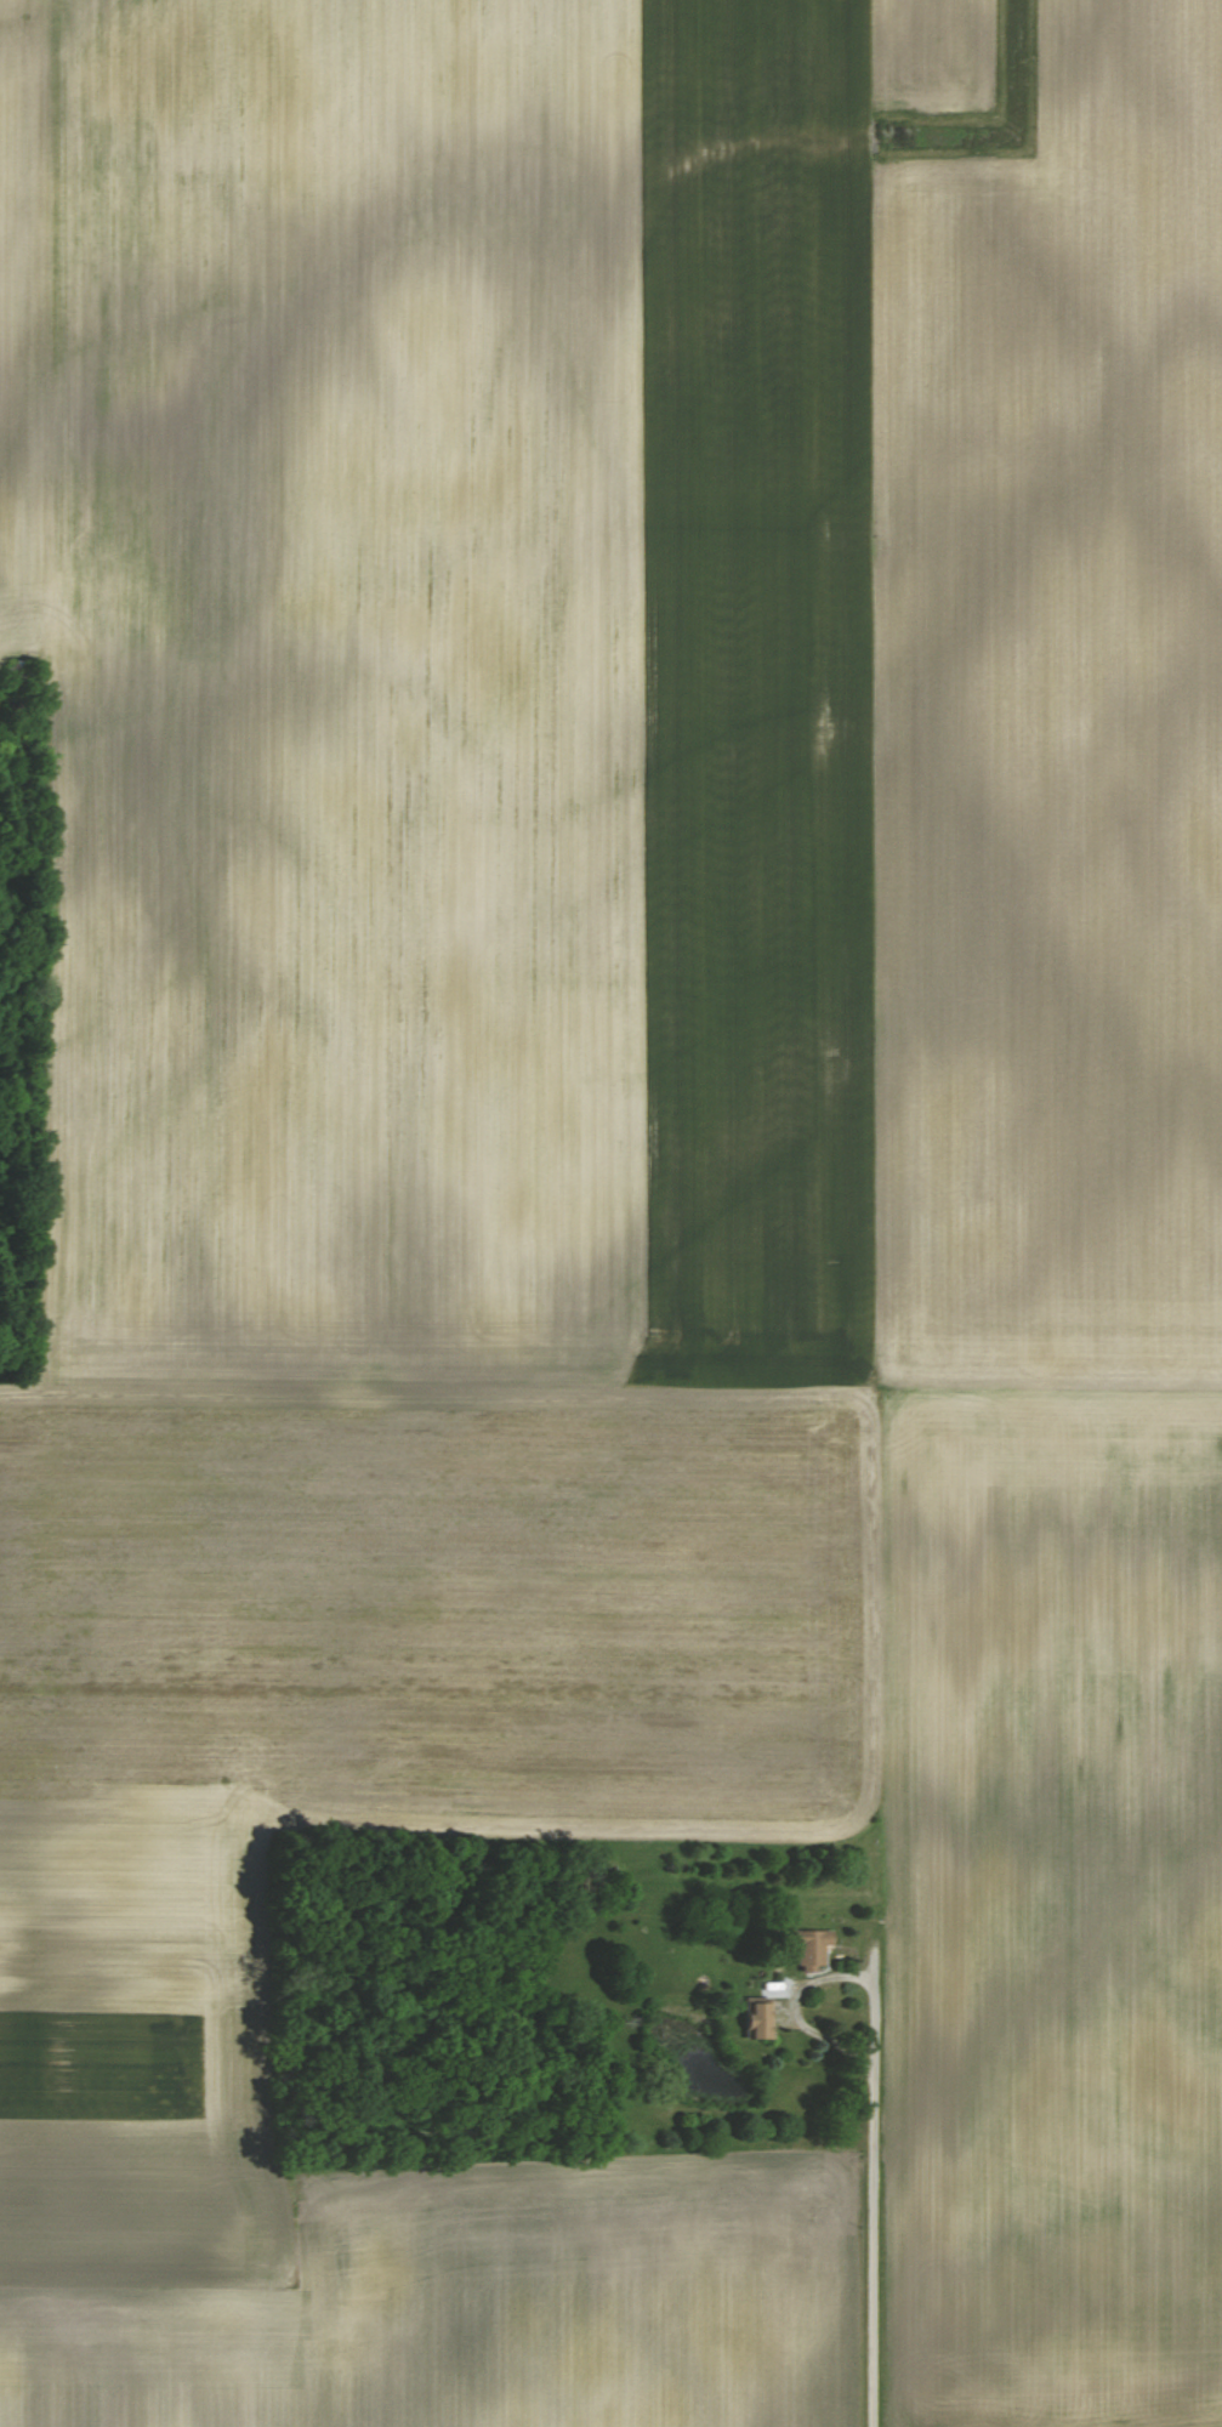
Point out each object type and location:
building: (806, 1946)
road: (879, 2011)
building: (757, 2019)
road: (875, 2272)

